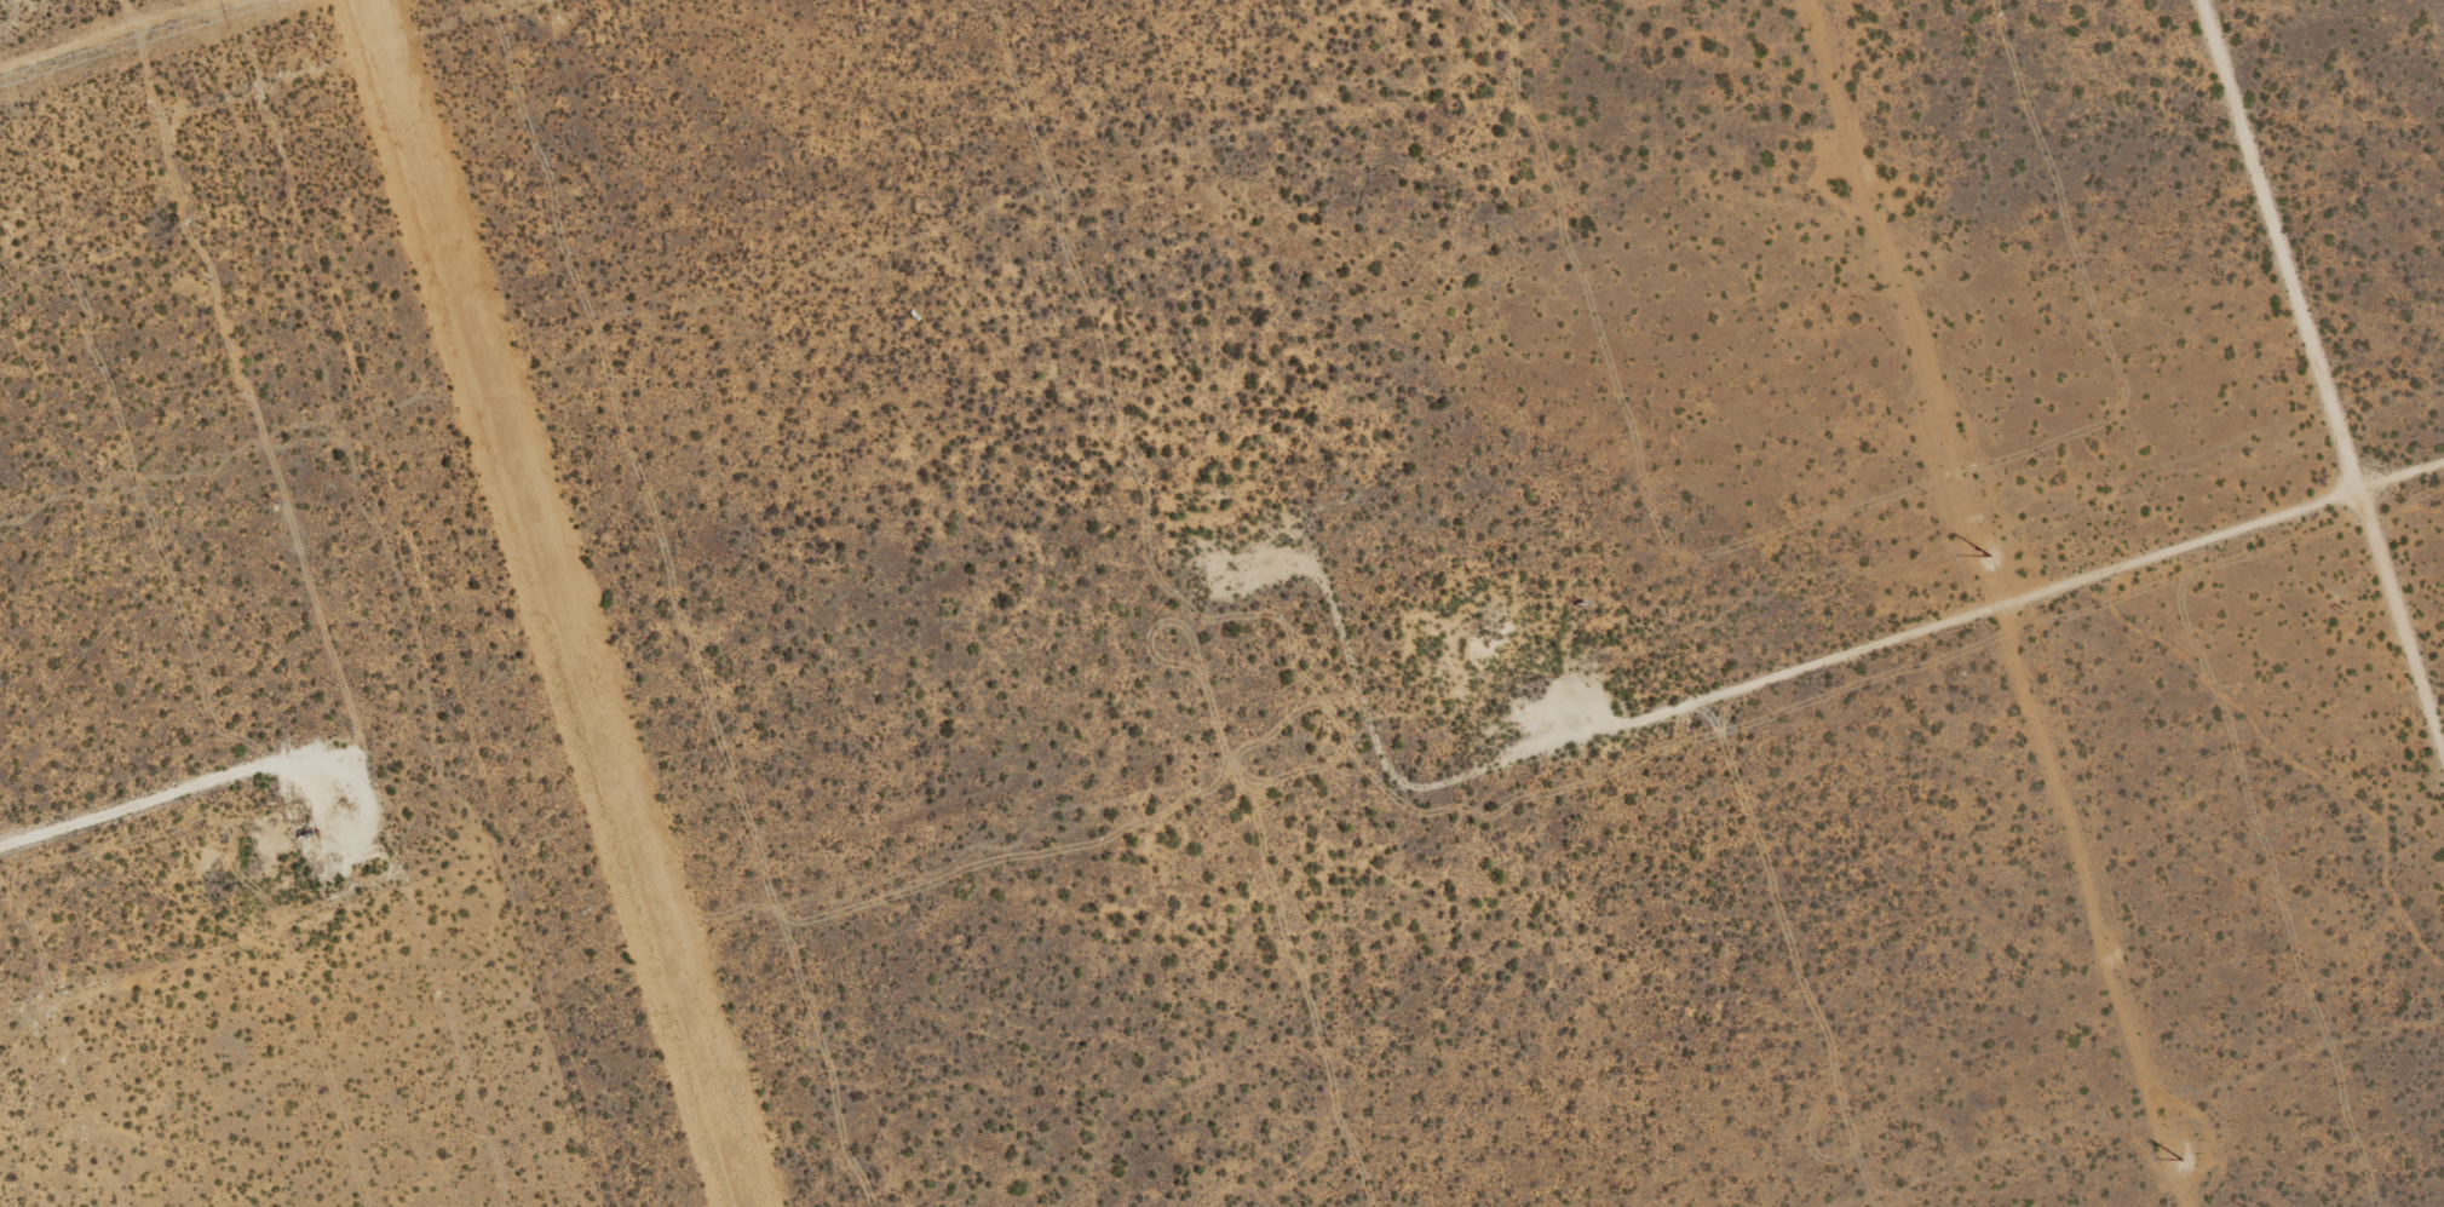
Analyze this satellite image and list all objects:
road: (2318, 381)
road: (1792, 676)

